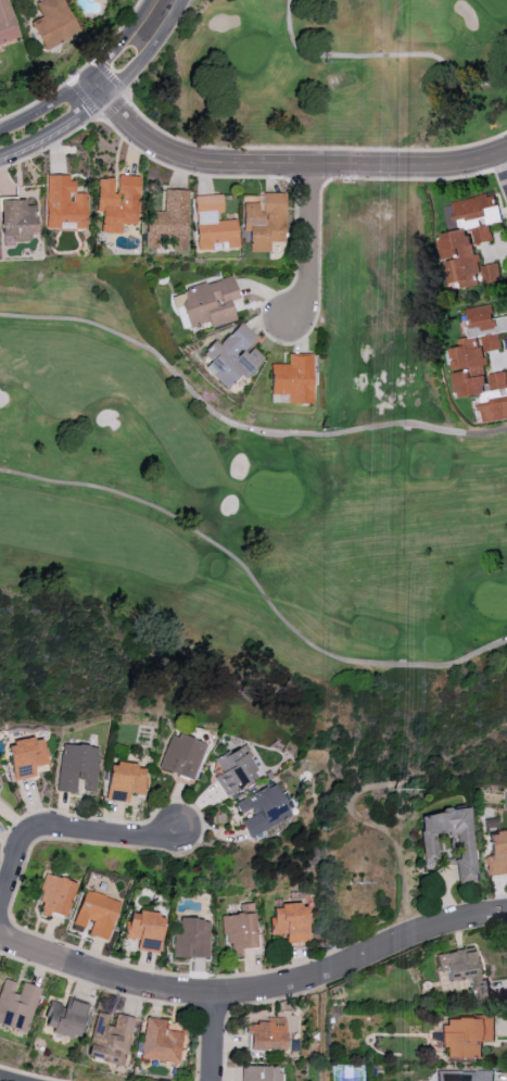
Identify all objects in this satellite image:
road: (162, 13)
building: (7, 23)
building: (53, 23)
road: (381, 54)
park: (331, 71)
road: (79, 81)
road: (88, 105)
road: (281, 164)
road: (503, 164)
building: (117, 202)
building: (65, 204)
building: (16, 221)
building: (169, 221)
building: (264, 221)
building: (213, 224)
building: (468, 239)
road: (309, 246)
building: (207, 302)
building: (232, 356)
building: (480, 363)
building: (293, 379)
road: (237, 424)
road: (251, 587)
building: (26, 756)
building: (181, 756)
building: (77, 767)
building: (233, 770)
building: (125, 781)
power tower: (402, 800)
building: (264, 809)
road: (64, 832)
building: (465, 847)
building: (496, 853)
power tower: (356, 875)
building: (53, 896)
building: (96, 914)
building: (290, 921)
building: (144, 930)
building: (239, 932)
building: (191, 938)
building: (464, 975)
road: (255, 990)
building: (16, 1005)
building: (65, 1018)
building: (266, 1035)
building: (466, 1035)
road: (216, 1036)
building: (110, 1039)
building: (162, 1040)
building: (261, 1073)
building: (465, 1076)
road: (3, 1079)

